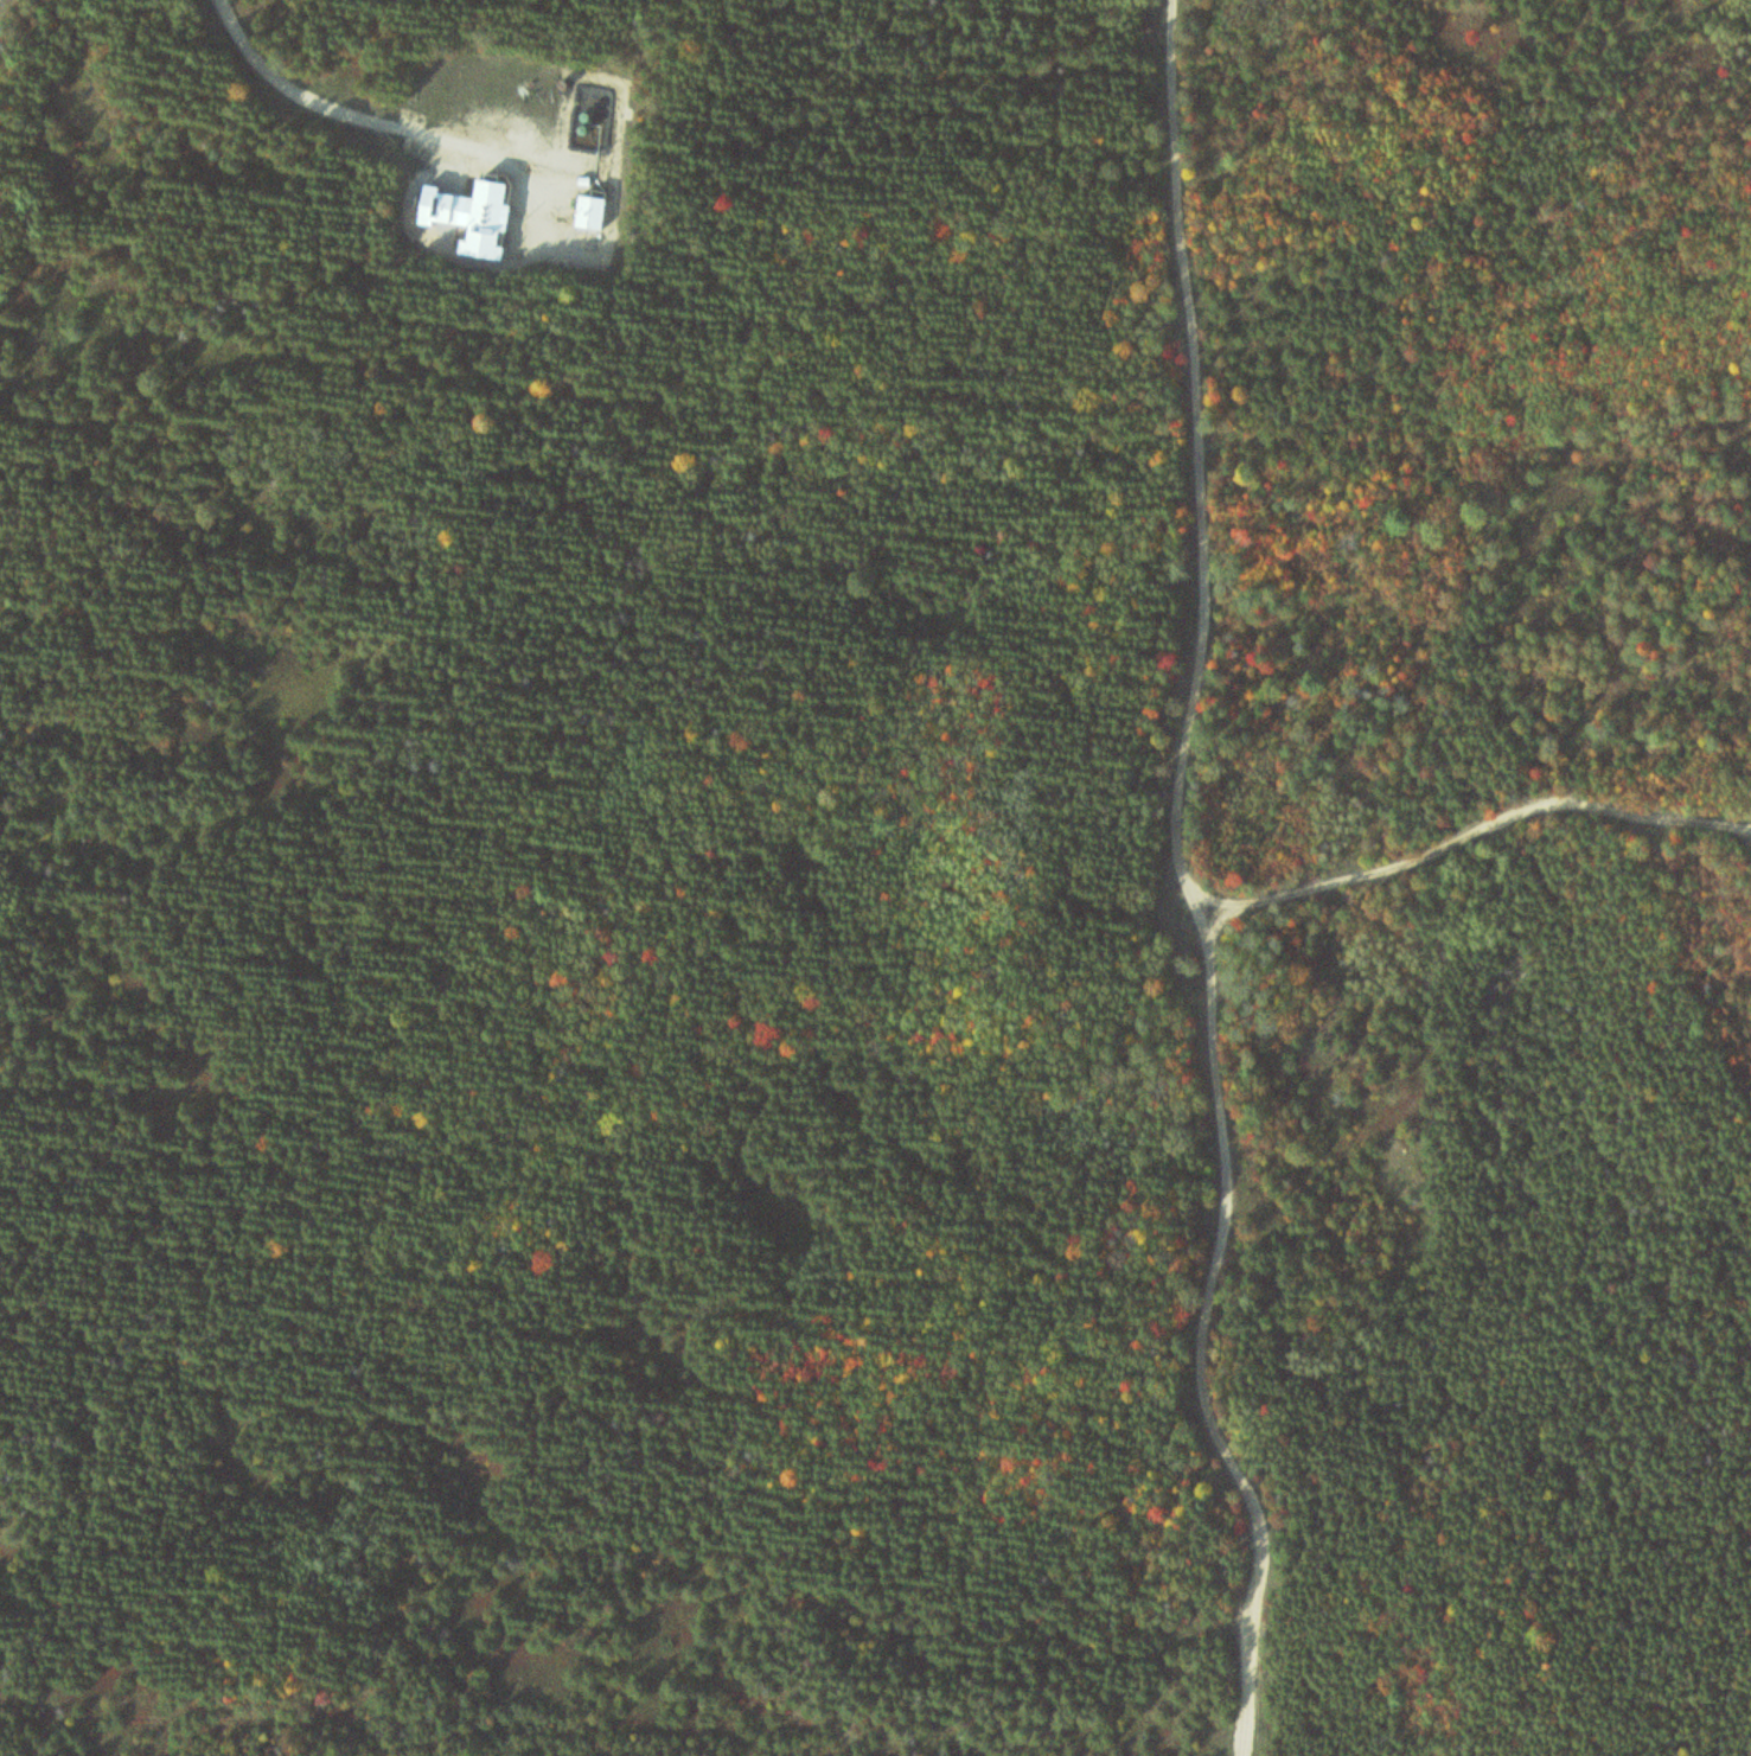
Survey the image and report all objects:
road: (2, 4)
road: (349, 101)
building: (596, 212)
building: (483, 217)
road: (1484, 829)
road: (1207, 882)

